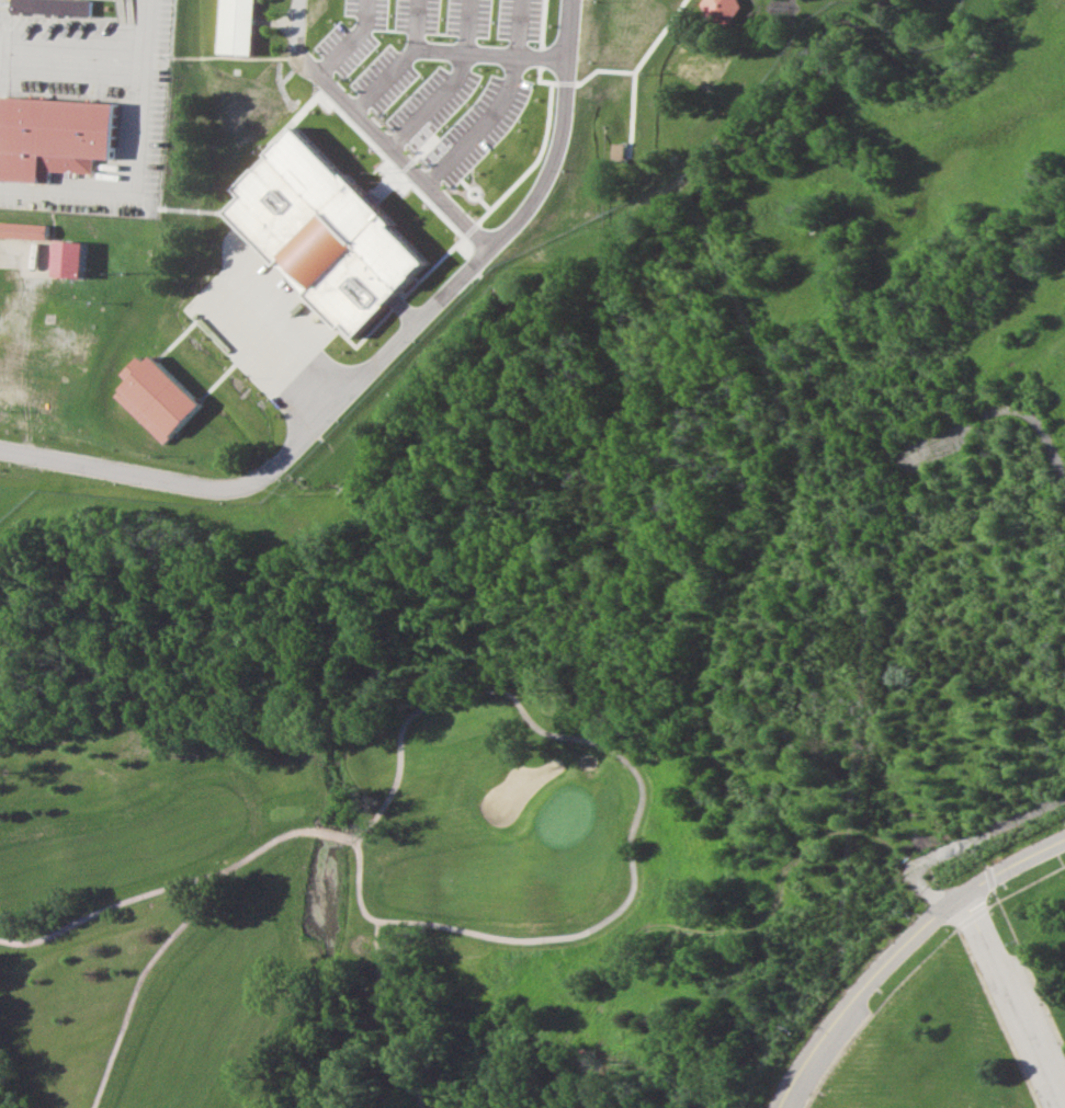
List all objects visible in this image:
building: (52, 7)
building: (721, 11)
building: (234, 26)
road: (148, 30)
road: (73, 57)
road: (373, 134)
building: (55, 136)
road: (555, 161)
road: (137, 194)
building: (23, 229)
building: (322, 233)
road: (16, 244)
building: (68, 259)
road: (355, 376)
building: (154, 398)
road: (185, 483)
road: (962, 839)
road: (1007, 892)
park: (333, 904)
road: (940, 939)
road: (897, 946)
road: (1015, 948)
road: (1006, 1001)
parking lot: (1013, 1006)

